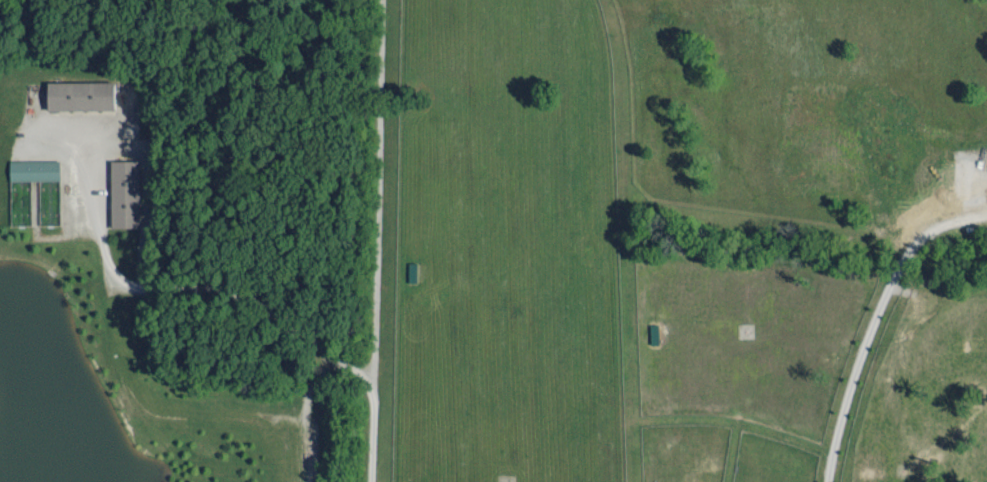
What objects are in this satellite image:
building: (82, 94)
building: (36, 168)
building: (125, 192)

